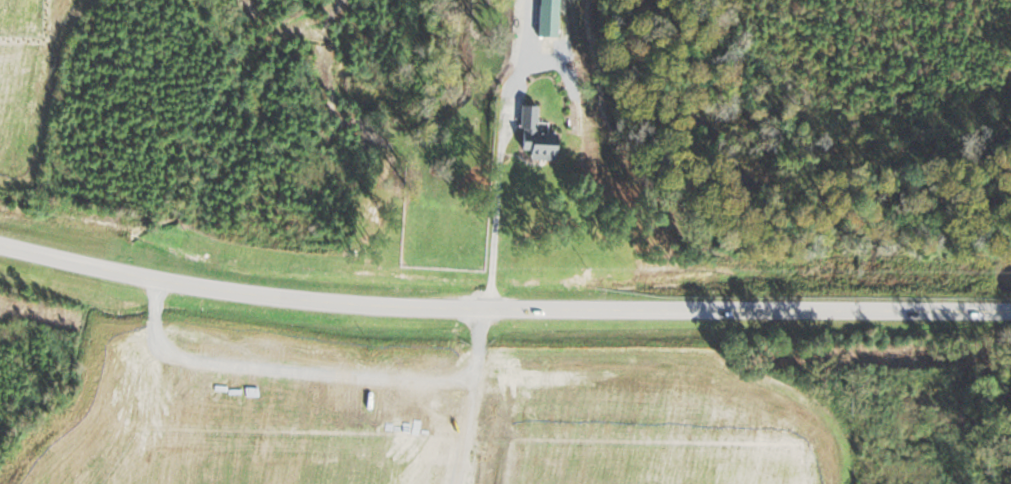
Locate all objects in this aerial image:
building: (553, 18)
building: (541, 136)
road: (502, 307)

